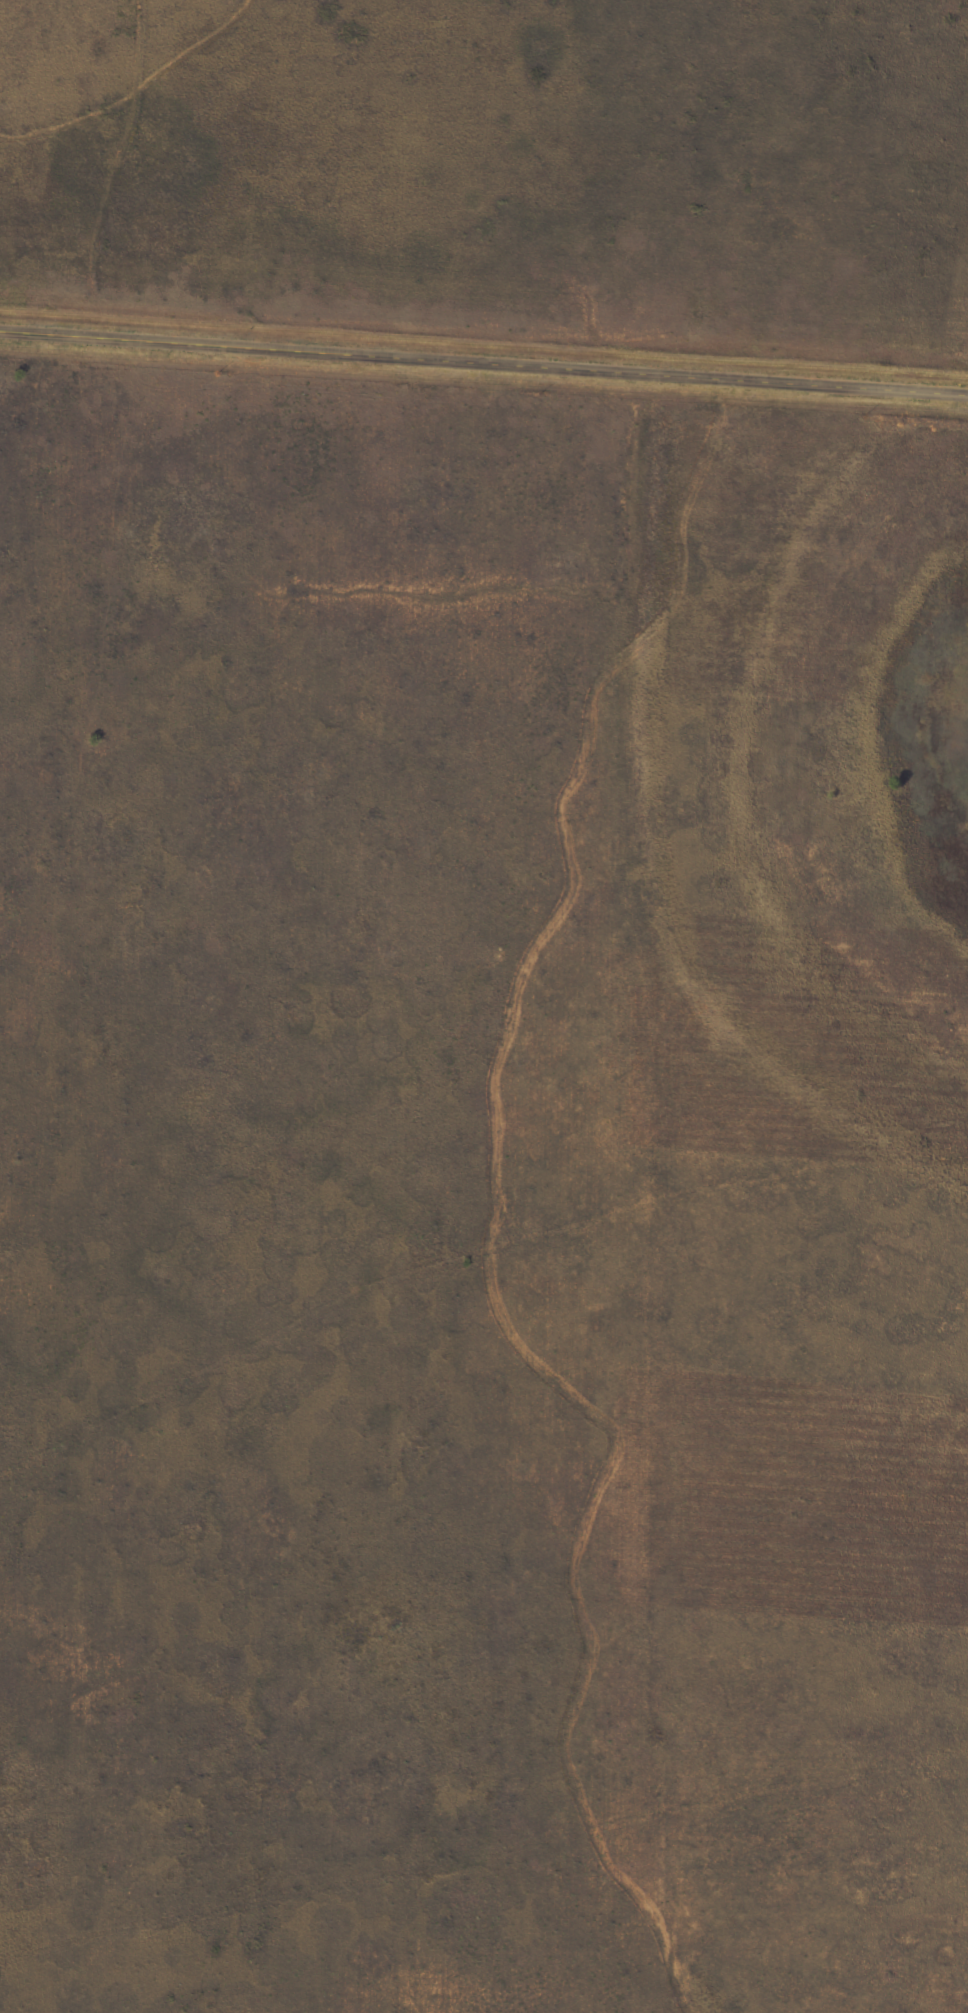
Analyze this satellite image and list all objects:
road: (484, 363)

